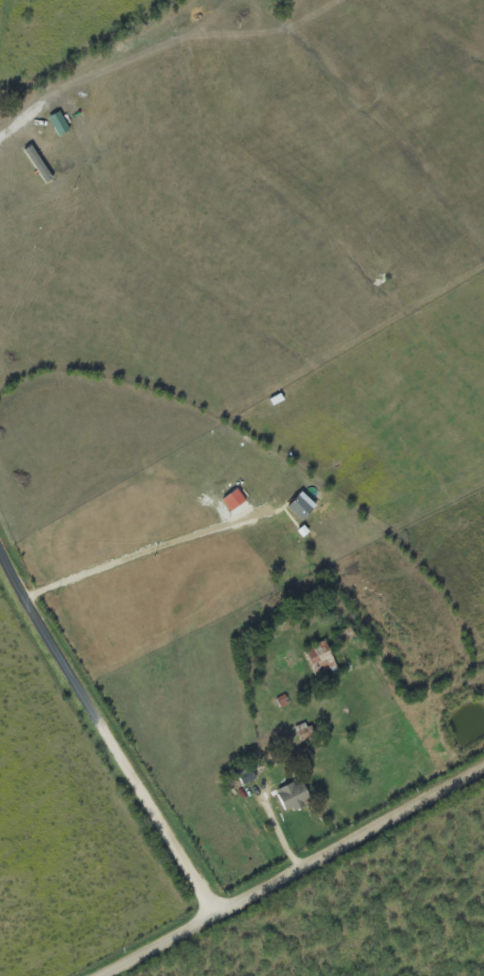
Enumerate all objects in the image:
building: (302, 507)
building: (321, 659)
building: (282, 702)
road: (109, 742)
building: (246, 776)
building: (293, 797)
road: (297, 874)

